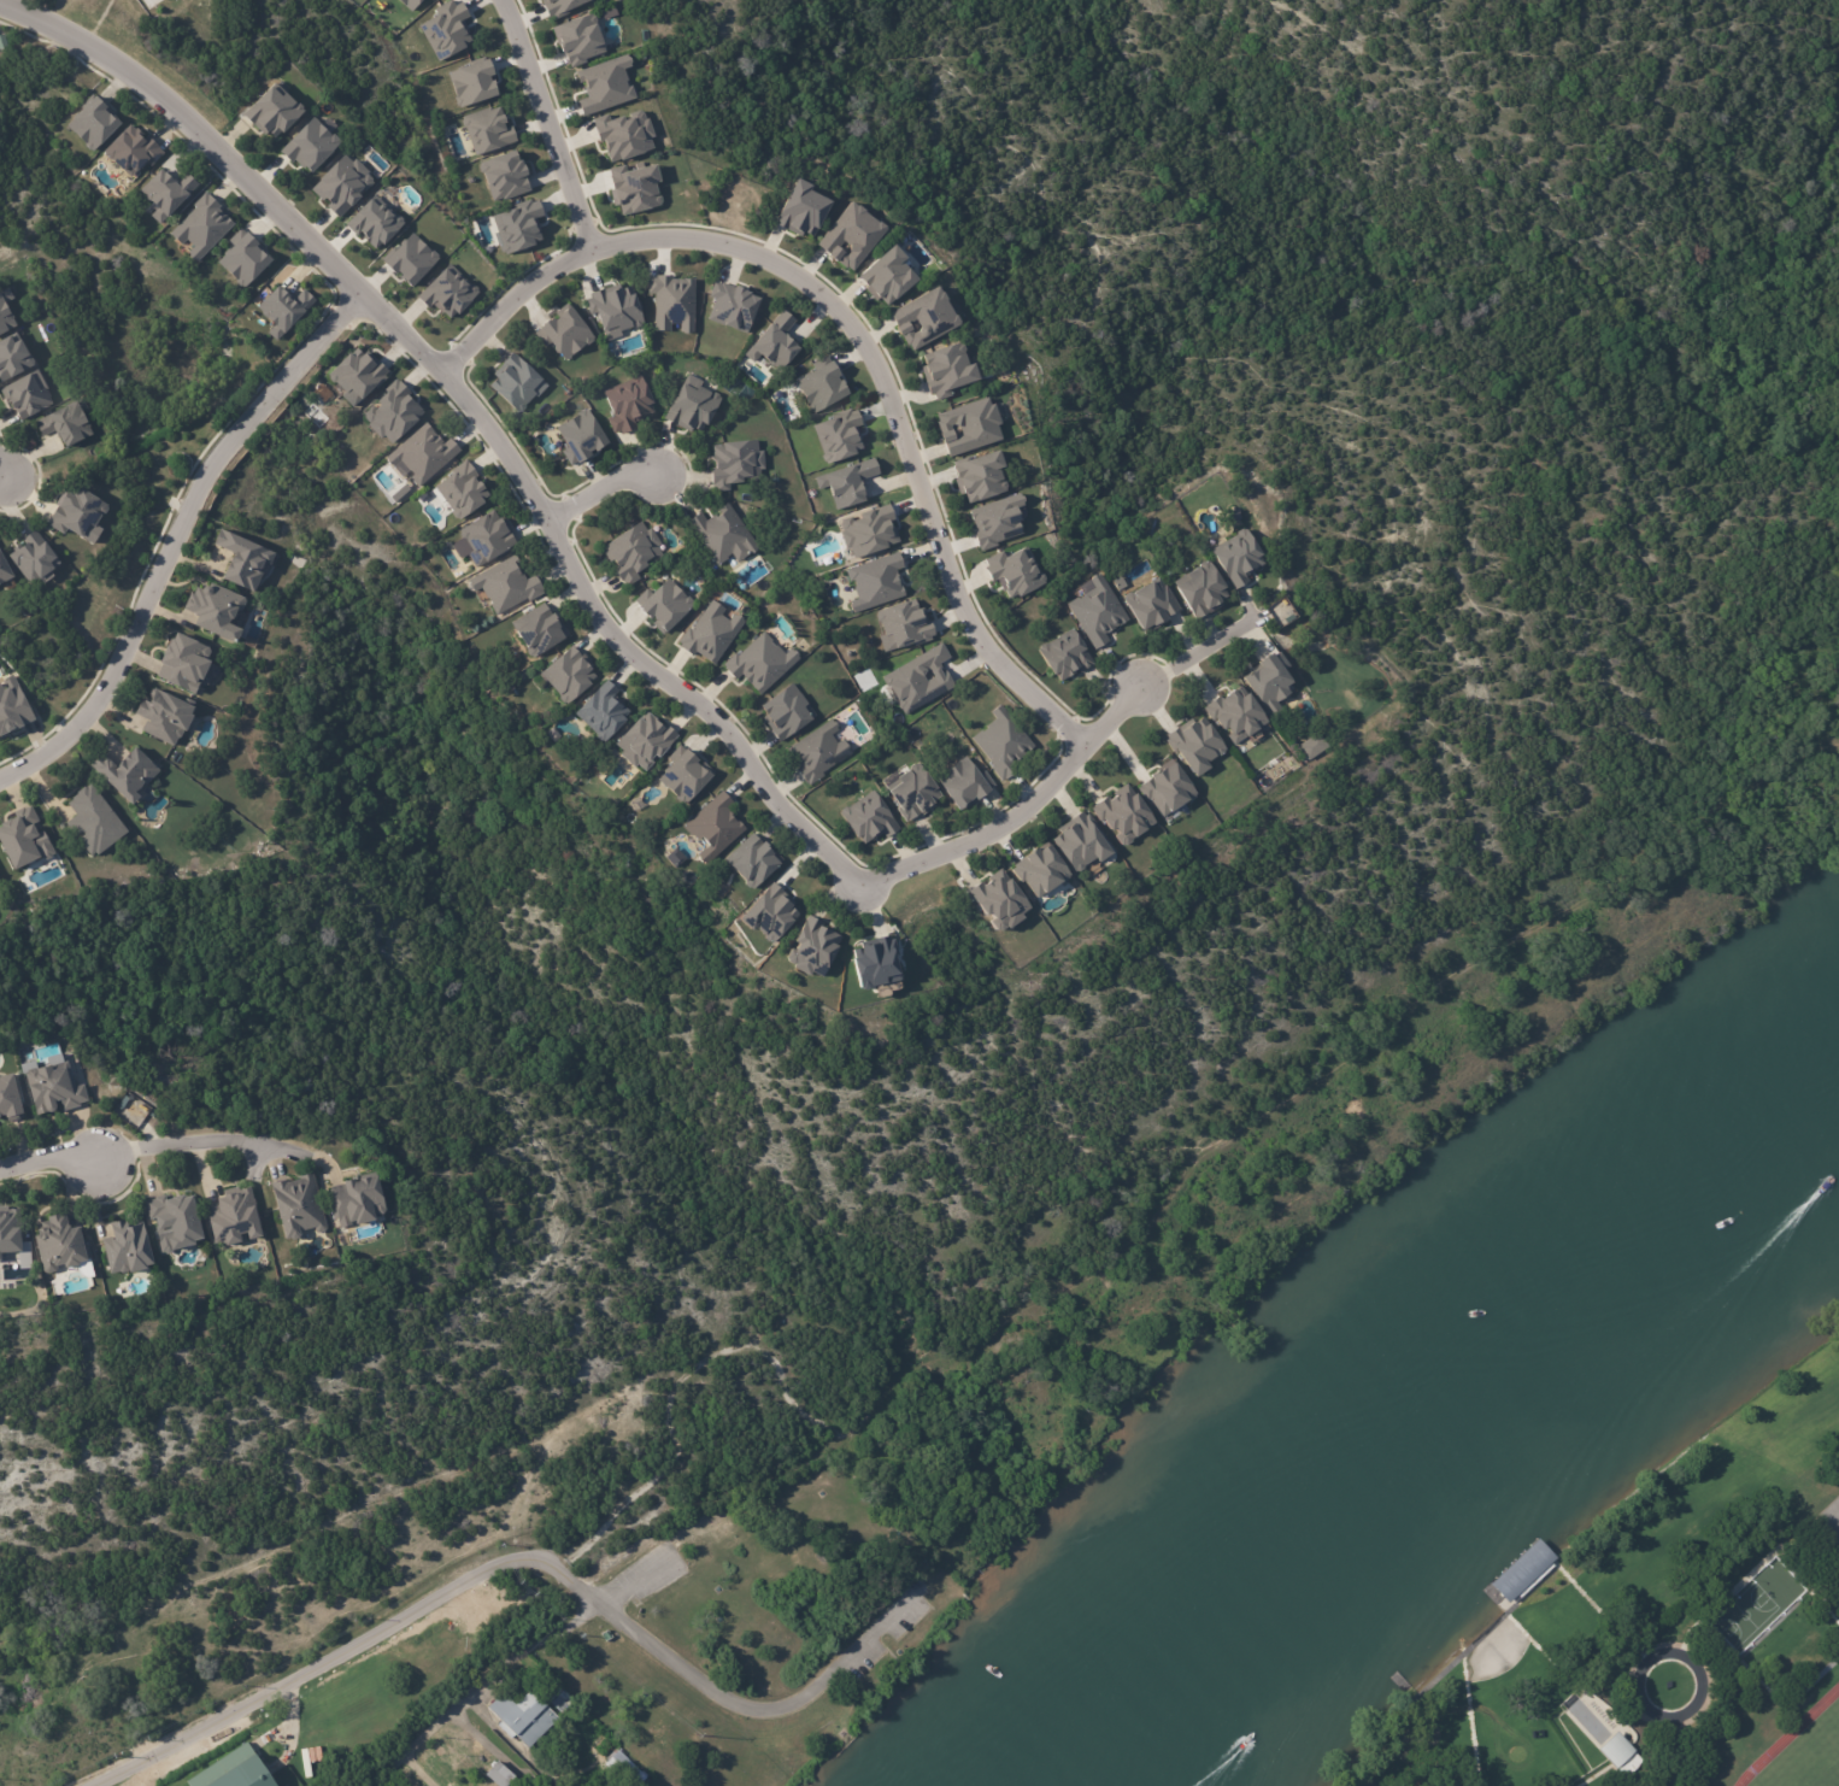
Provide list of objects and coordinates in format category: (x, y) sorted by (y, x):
building: (410, 4)
building: (560, 5)
building: (446, 29)
building: (578, 39)
building: (4, 41)
building: (471, 82)
building: (604, 84)
building: (270, 108)
building: (92, 123)
road: (547, 123)
building: (487, 129)
building: (623, 134)
building: (309, 145)
building: (133, 148)
building: (504, 175)
building: (341, 182)
building: (631, 186)
building: (168, 189)
building: (800, 208)
building: (372, 221)
building: (200, 223)
building: (517, 225)
building: (850, 235)
building: (407, 258)
building: (242, 259)
building: (887, 276)
building: (453, 290)
building: (670, 300)
building: (730, 305)
building: (613, 307)
building: (282, 310)
building: (5, 312)
building: (922, 318)
road: (851, 329)
building: (563, 331)
building: (774, 343)
building: (13, 357)
building: (947, 371)
building: (356, 377)
building: (515, 383)
building: (819, 384)
building: (27, 394)
building: (628, 405)
building: (692, 406)
building: (392, 412)
building: (66, 423)
building: (966, 425)
building: (836, 435)
building: (578, 437)
building: (422, 454)
building: (735, 464)
road: (5, 477)
building: (980, 477)
building: (845, 482)
building: (460, 490)
road: (597, 492)
building: (78, 511)
building: (994, 521)
building: (866, 530)
building: (722, 535)
building: (483, 536)
road: (174, 537)
building: (0, 546)
building: (631, 552)
building: (34, 556)
building: (1238, 559)
building: (241, 560)
road: (565, 568)
building: (4, 569)
building: (1016, 574)
building: (874, 581)
building: (504, 583)
building: (1201, 591)
building: (664, 606)
building: (1151, 606)
building: (1280, 609)
building: (213, 611)
building: (1097, 613)
building: (1288, 619)
building: (535, 628)
building: (904, 628)
building: (707, 631)
road: (1211, 645)
building: (1065, 657)
building: (181, 664)
building: (759, 664)
building: (569, 676)
building: (917, 677)
building: (1270, 685)
building: (12, 707)
building: (785, 711)
building: (601, 713)
building: (161, 715)
building: (1236, 716)
building: (645, 742)
building: (1003, 745)
building: (1311, 745)
building: (1195, 747)
building: (817, 750)
building: (125, 772)
building: (681, 775)
building: (964, 786)
building: (1165, 787)
building: (911, 791)
building: (1122, 815)
building: (868, 819)
building: (92, 821)
building: (710, 826)
building: (20, 841)
building: (1081, 845)
building: (671, 854)
building: (751, 864)
building: (1041, 874)
building: (719, 886)
building: (999, 904)
building: (766, 911)
building: (812, 952)
building: (875, 967)
building: (52, 1091)
building: (8, 1100)
building: (130, 1112)
road: (216, 1141)
road: (66, 1158)
building: (354, 1205)
building: (295, 1209)
building: (230, 1215)
building: (172, 1221)
building: (8, 1234)
building: (58, 1246)
building: (125, 1250)
road: (1007, 1332)
river: (1474, 1445)
building: (1497, 1587)
road: (636, 1627)
park: (1747, 1629)
park: (789, 1633)
road: (832, 1669)
road: (476, 1680)
road: (1699, 1685)
building: (562, 1702)
building: (523, 1717)
building: (1617, 1751)
track: (1806, 1756)
road: (1678, 1757)
park: (1810, 1758)
building: (623, 1767)
road: (387, 1769)
building: (234, 1770)
building: (498, 1775)

